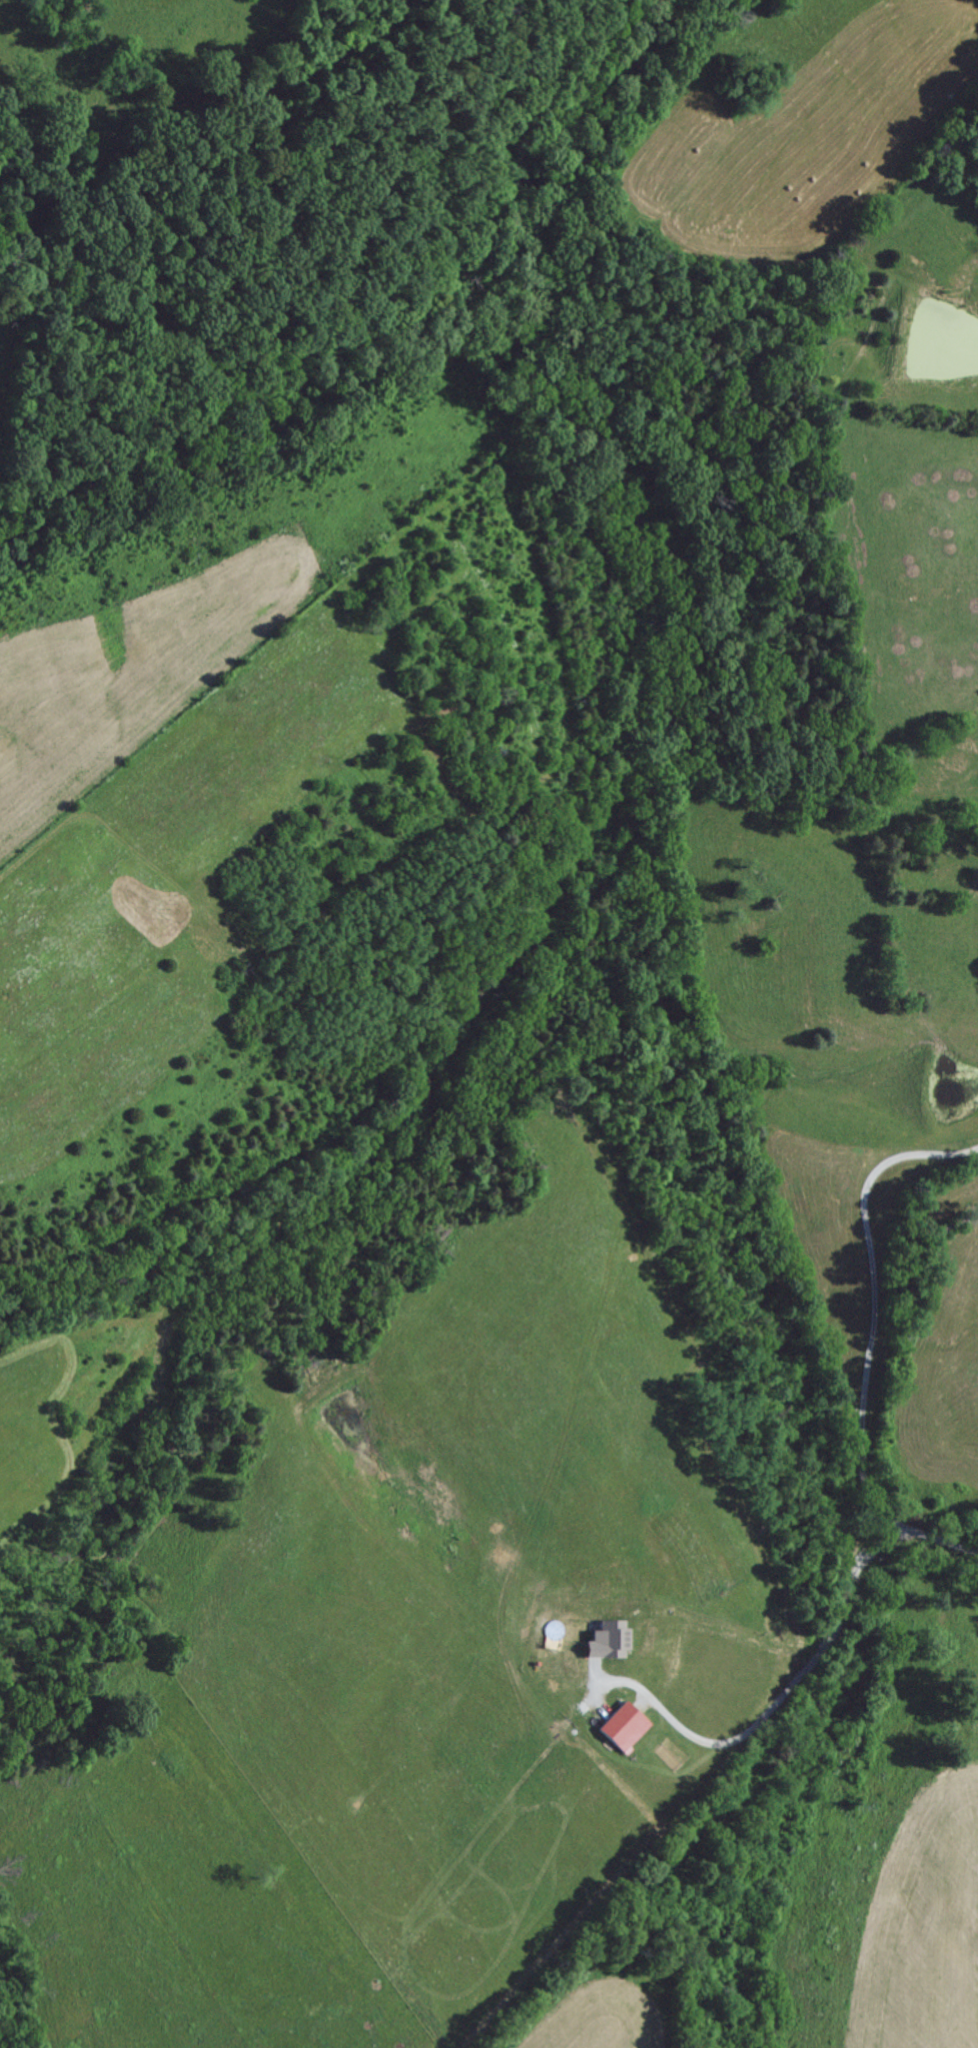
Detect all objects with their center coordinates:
road: (348, 301)
road: (874, 1276)
road: (915, 1531)
building: (609, 1637)
road: (781, 1691)
building: (622, 1723)

